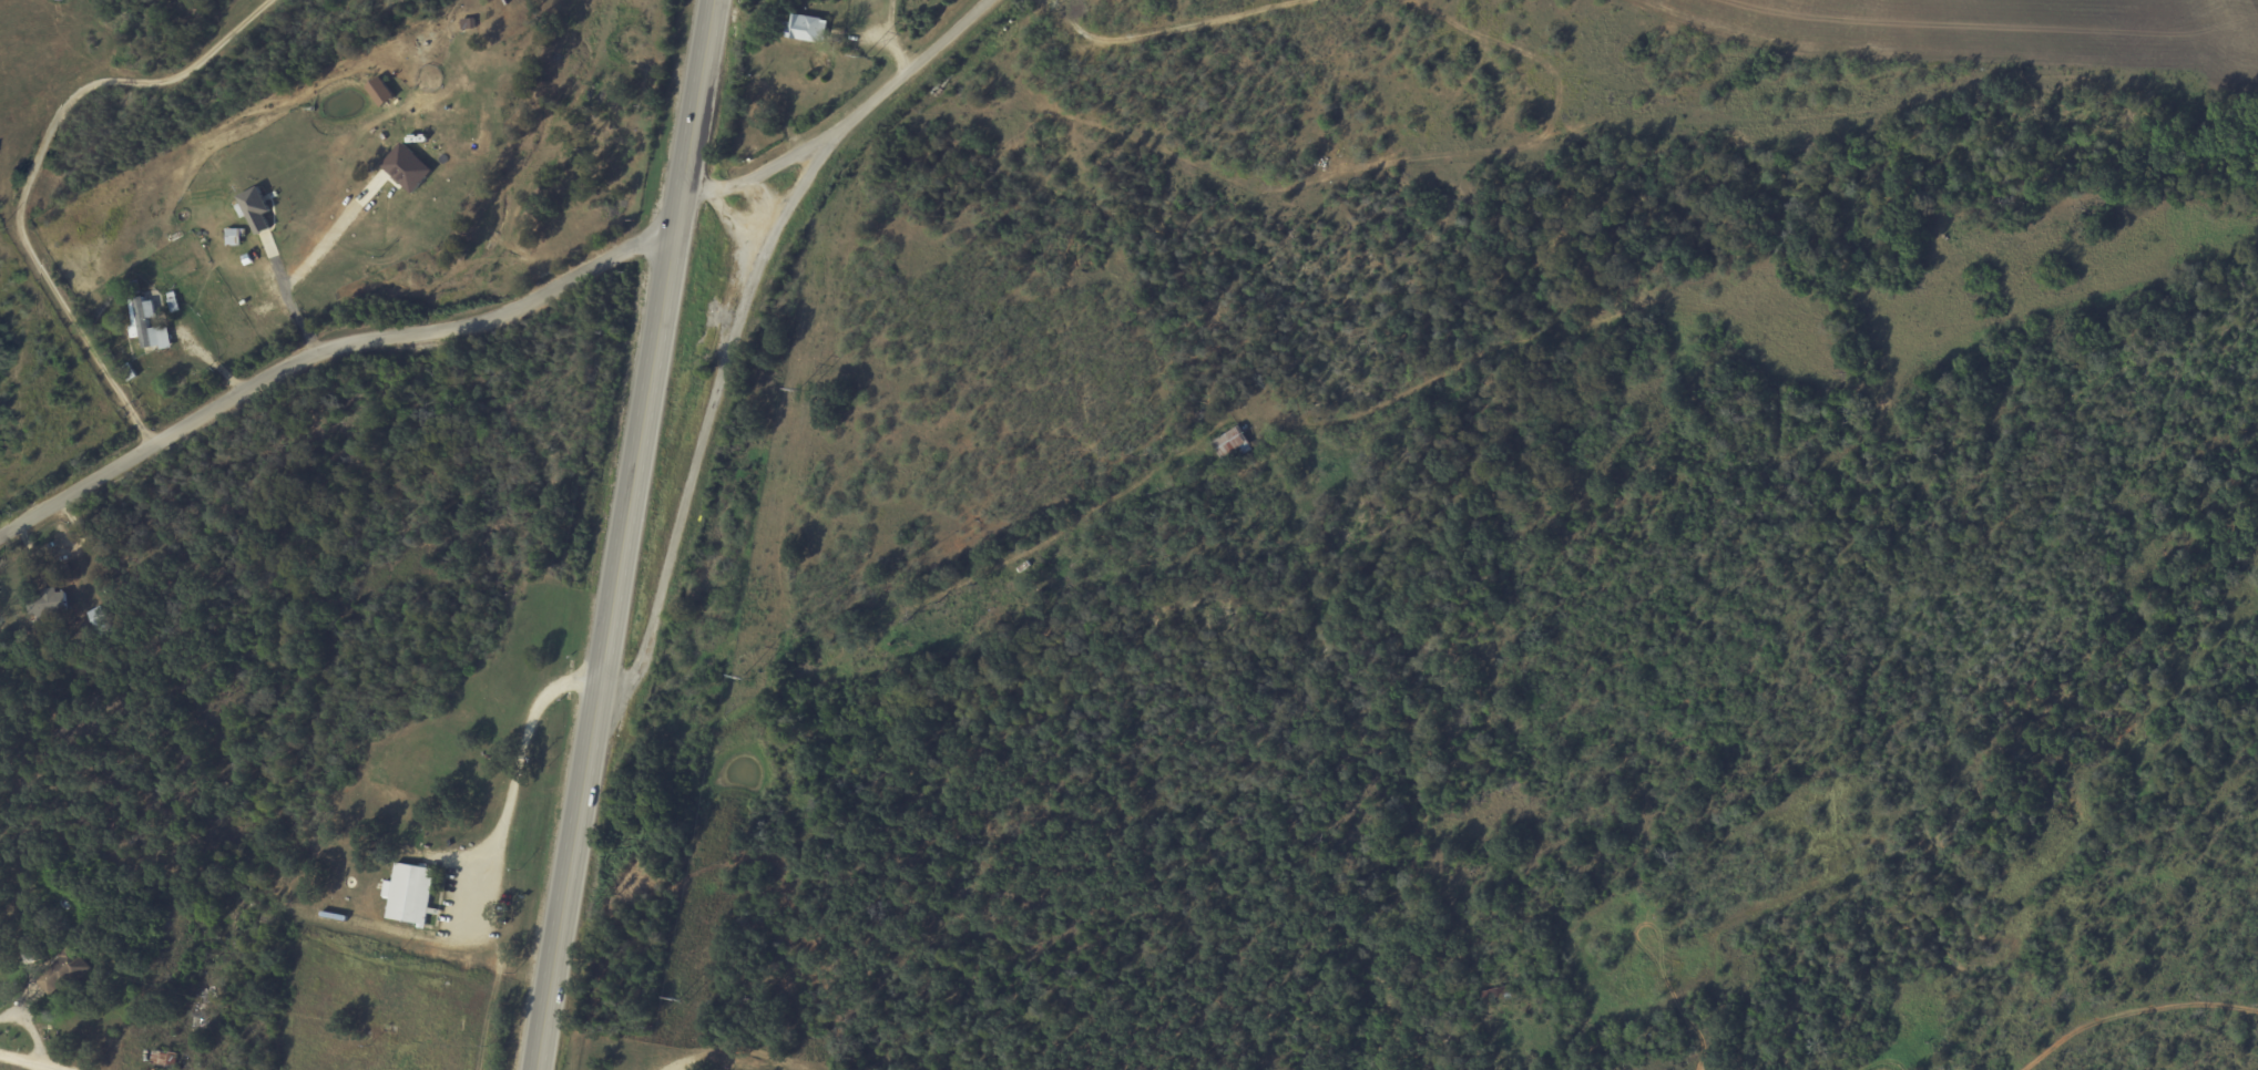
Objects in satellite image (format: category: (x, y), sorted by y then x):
building: (807, 28)
power tower: (866, 66)
road: (848, 121)
building: (407, 167)
road: (31, 172)
building: (255, 209)
building: (140, 322)
road: (323, 351)
power tower: (803, 390)
road: (709, 413)
building: (1230, 444)
road: (623, 534)
building: (48, 603)
building: (101, 620)
power tower: (745, 679)
road: (510, 759)
building: (408, 894)
building: (30, 949)
building: (61, 973)
power tower: (678, 1000)
road: (29, 1061)

